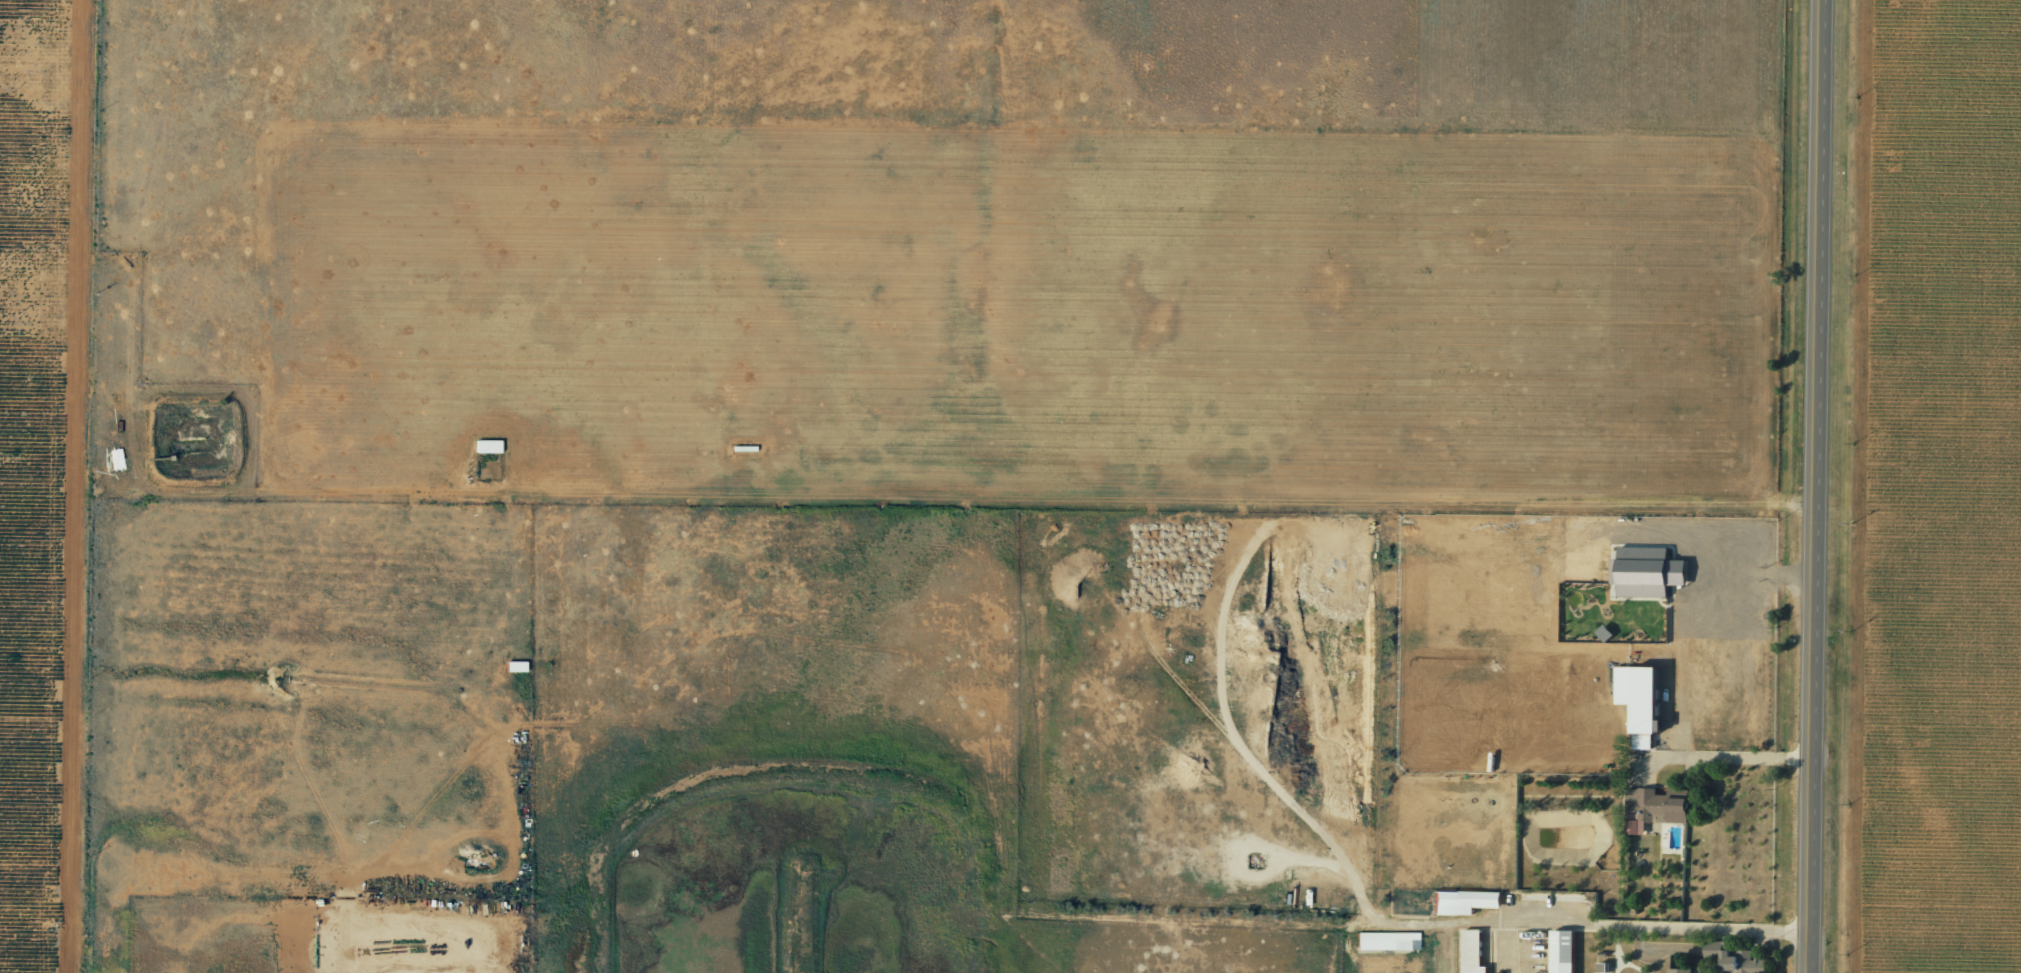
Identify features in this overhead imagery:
road: (97, 97)
road: (1824, 486)
building: (1645, 571)
road: (83, 584)
building: (1637, 700)
road: (1729, 757)
building: (1651, 809)
building: (1461, 901)
road: (1469, 922)
building: (1385, 940)
building: (1560, 951)
building: (1470, 952)
building: (1733, 960)
building: (1678, 970)

